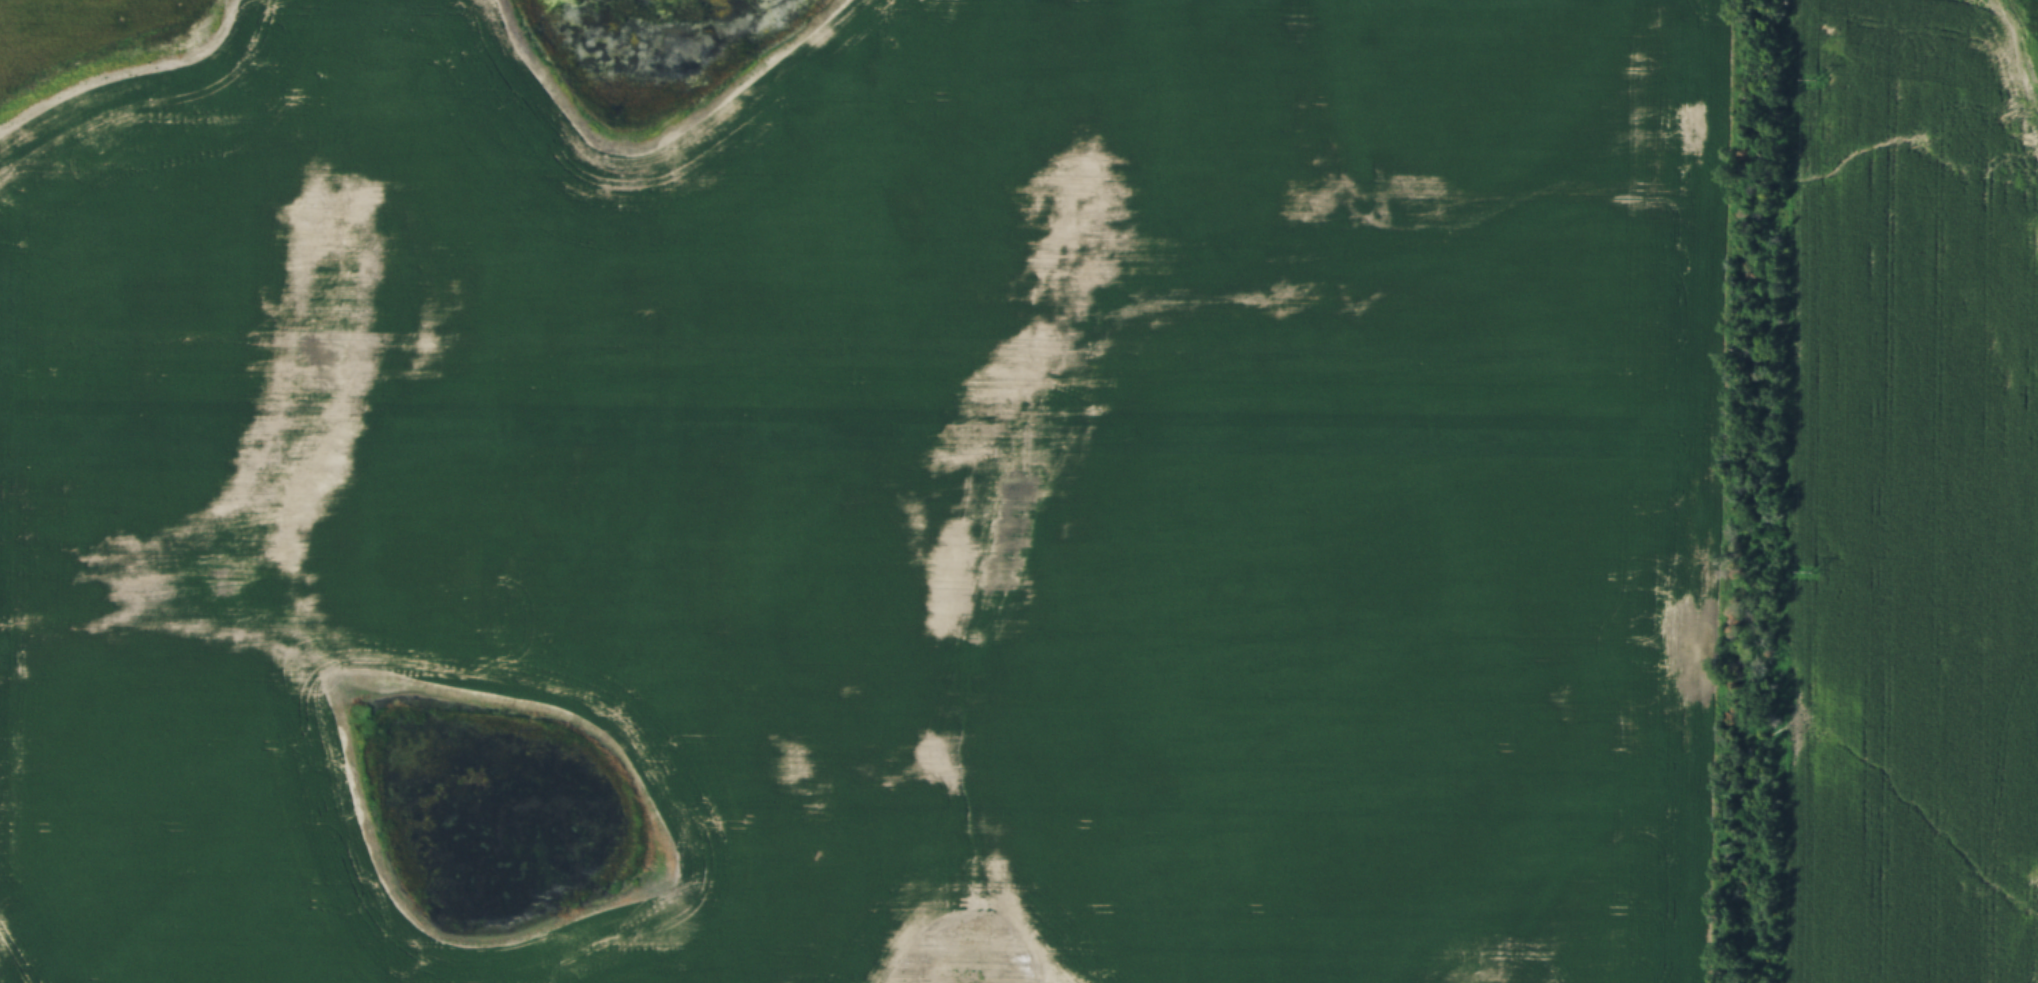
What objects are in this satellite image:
power tower: (1816, 79)
power tower: (1811, 573)

